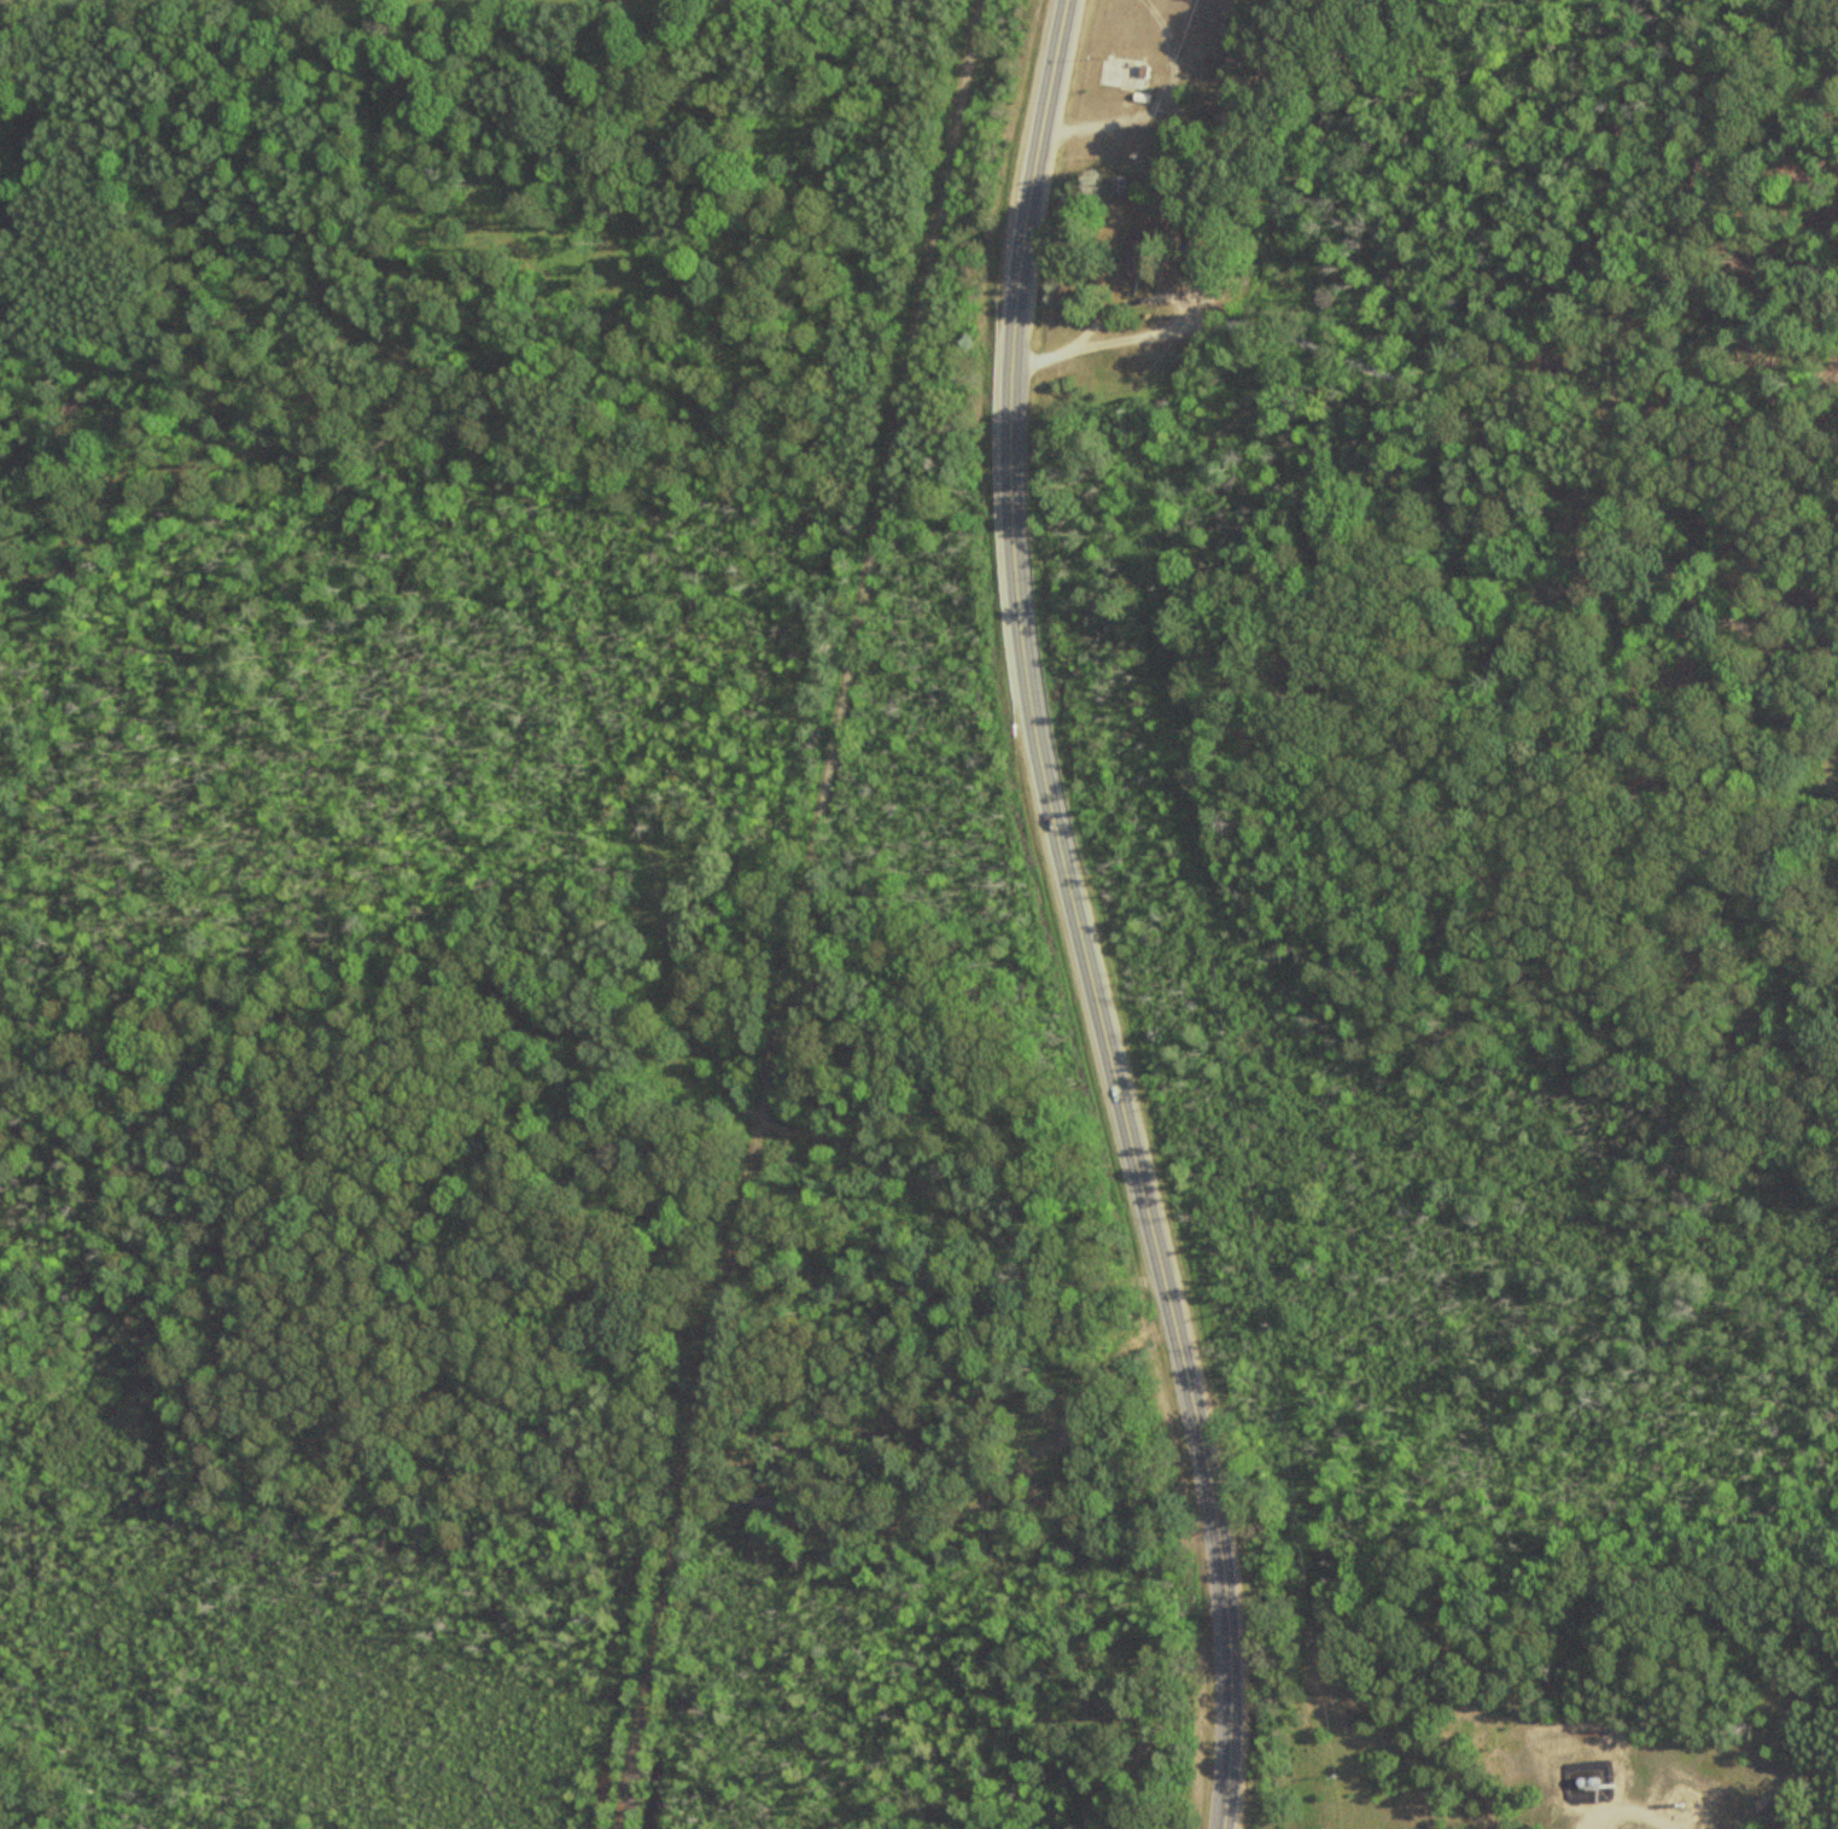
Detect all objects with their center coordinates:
building: (1120, 75)
road: (1145, 107)
building: (1136, 243)
road: (1142, 303)
road: (1185, 316)
road: (1445, 407)
road: (595, 752)
road: (789, 913)
road: (1069, 918)
building: (1585, 1781)

